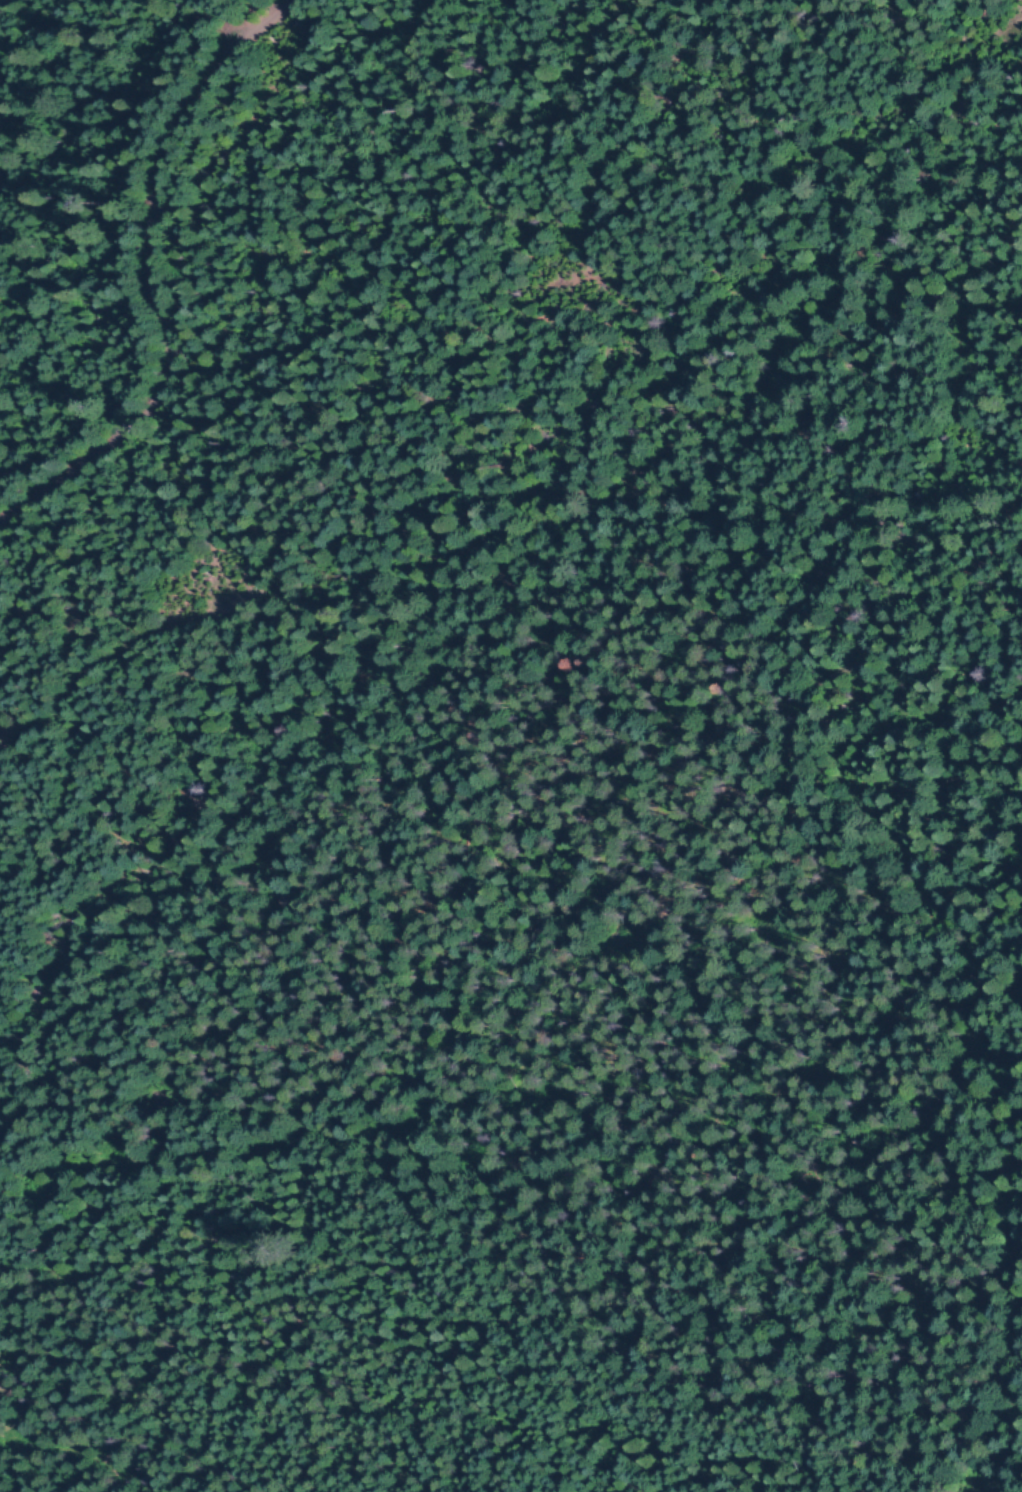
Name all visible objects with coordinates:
road: (154, 271)

